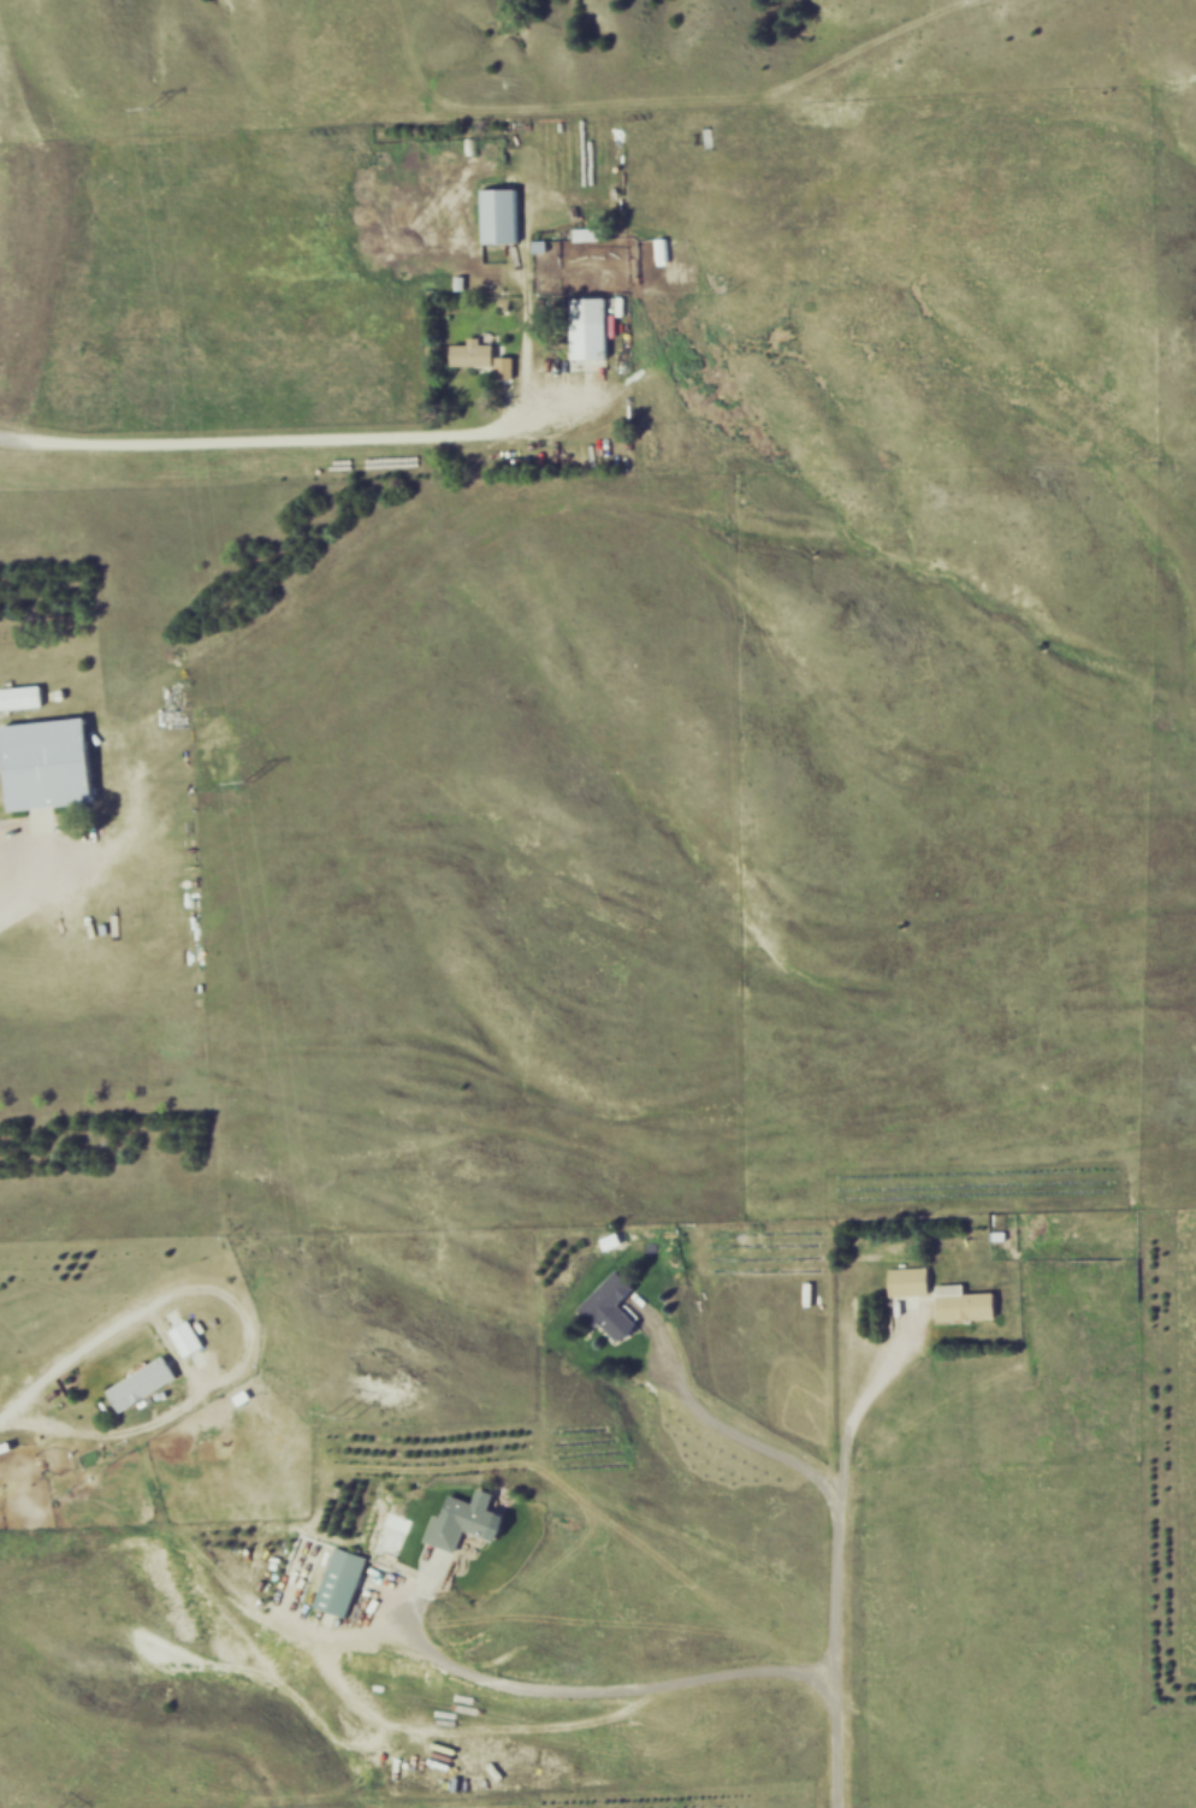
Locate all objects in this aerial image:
power tower: (159, 105)
building: (592, 234)
building: (593, 327)
building: (478, 353)
road: (290, 445)
building: (24, 696)
building: (53, 762)
power tower: (254, 780)
road: (23, 869)
building: (913, 1281)
building: (969, 1302)
building: (616, 1308)
building: (193, 1340)
road: (95, 1347)
building: (147, 1384)
road: (862, 1407)
power tower: (345, 1419)
road: (836, 1508)
building: (468, 1519)
building: (345, 1580)
road: (587, 1692)

